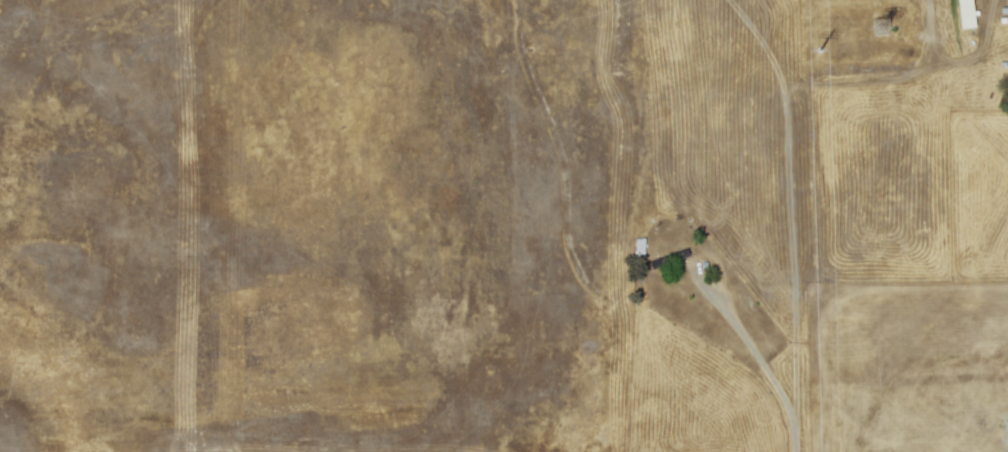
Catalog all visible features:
building: (964, 13)
power tower: (883, 29)
road: (755, 356)

